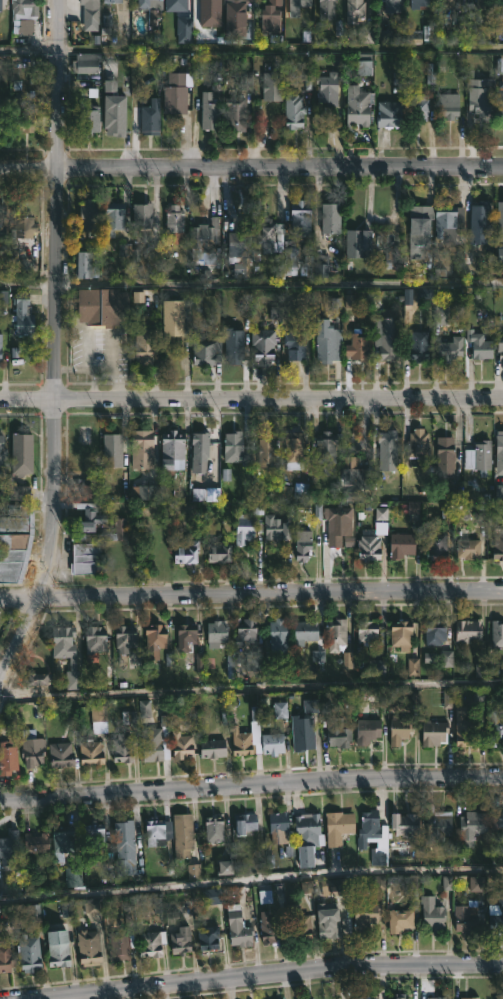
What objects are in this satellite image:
building: (111, 1)
building: (417, 3)
building: (149, 4)
building: (449, 4)
building: (481, 4)
building: (1, 5)
building: (205, 5)
building: (298, 6)
building: (393, 6)
building: (325, 9)
building: (500, 9)
building: (353, 11)
building: (90, 12)
building: (24, 16)
building: (233, 20)
building: (269, 20)
building: (200, 27)
road: (251, 49)
building: (84, 63)
building: (499, 65)
building: (271, 81)
building: (327, 88)
building: (174, 96)
building: (478, 102)
building: (448, 105)
building: (270, 106)
building: (3, 108)
building: (418, 108)
building: (356, 109)
building: (209, 111)
building: (293, 112)
building: (499, 112)
building: (114, 114)
building: (234, 114)
building: (388, 114)
building: (0, 115)
building: (21, 117)
building: (149, 118)
building: (89, 120)
road: (251, 169)
building: (1, 213)
building: (87, 213)
building: (141, 215)
building: (300, 215)
building: (329, 217)
building: (480, 217)
building: (112, 218)
building: (173, 220)
building: (500, 220)
building: (448, 224)
building: (19, 226)
building: (263, 232)
building: (417, 232)
building: (205, 233)
building: (236, 242)
building: (357, 243)
building: (393, 248)
building: (289, 255)
building: (86, 263)
building: (320, 265)
road: (280, 284)
road: (28, 286)
building: (105, 306)
building: (22, 314)
building: (172, 316)
building: (234, 322)
building: (386, 336)
building: (500, 341)
building: (294, 344)
building: (479, 344)
building: (262, 345)
building: (328, 345)
building: (418, 345)
road: (55, 347)
building: (356, 347)
building: (451, 348)
building: (1, 350)
building: (144, 350)
building: (205, 352)
road: (251, 399)
building: (327, 445)
building: (417, 446)
building: (233, 448)
building: (140, 449)
building: (386, 449)
building: (111, 450)
building: (199, 450)
building: (265, 450)
building: (292, 450)
building: (171, 451)
building: (2, 453)
building: (20, 453)
building: (499, 453)
building: (478, 455)
building: (444, 460)
building: (353, 471)
building: (89, 492)
building: (21, 494)
building: (90, 517)
building: (336, 518)
building: (120, 525)
building: (243, 528)
building: (276, 528)
building: (14, 541)
building: (302, 544)
building: (400, 544)
building: (497, 544)
building: (436, 546)
building: (368, 547)
building: (467, 548)
building: (185, 552)
building: (218, 552)
building: (85, 558)
road: (251, 592)
building: (466, 630)
building: (304, 631)
building: (244, 632)
building: (366, 632)
building: (215, 633)
building: (335, 633)
building: (435, 633)
building: (495, 633)
building: (400, 635)
building: (185, 636)
building: (278, 636)
building: (124, 638)
building: (61, 639)
building: (92, 640)
building: (154, 640)
building: (377, 670)
road: (251, 698)
building: (91, 719)
building: (464, 727)
building: (495, 729)
building: (367, 730)
building: (399, 730)
building: (337, 733)
building: (432, 733)
building: (245, 735)
building: (302, 741)
building: (271, 743)
building: (151, 744)
building: (180, 745)
building: (212, 747)
building: (31, 748)
building: (121, 749)
building: (89, 752)
building: (59, 754)
building: (8, 757)
road: (251, 783)
building: (245, 822)
building: (498, 822)
building: (437, 823)
building: (404, 824)
building: (277, 825)
building: (337, 827)
building: (471, 827)
building: (213, 829)
building: (154, 832)
building: (92, 835)
building: (182, 835)
building: (306, 837)
building: (371, 837)
building: (61, 841)
building: (34, 843)
building: (124, 848)
building: (9, 849)
building: (72, 877)
road: (251, 879)
building: (334, 887)
building: (213, 897)
building: (431, 914)
building: (363, 915)
building: (496, 915)
building: (398, 920)
building: (327, 921)
building: (296, 922)
building: (464, 922)
building: (237, 927)
building: (267, 929)
building: (207, 938)
building: (180, 941)
building: (151, 943)
building: (118, 946)
building: (57, 948)
building: (85, 948)
building: (28, 953)
building: (5, 957)
road: (289, 971)
building: (362, 997)
building: (399, 997)
building: (440, 997)
building: (437, 998)
building: (474, 998)

